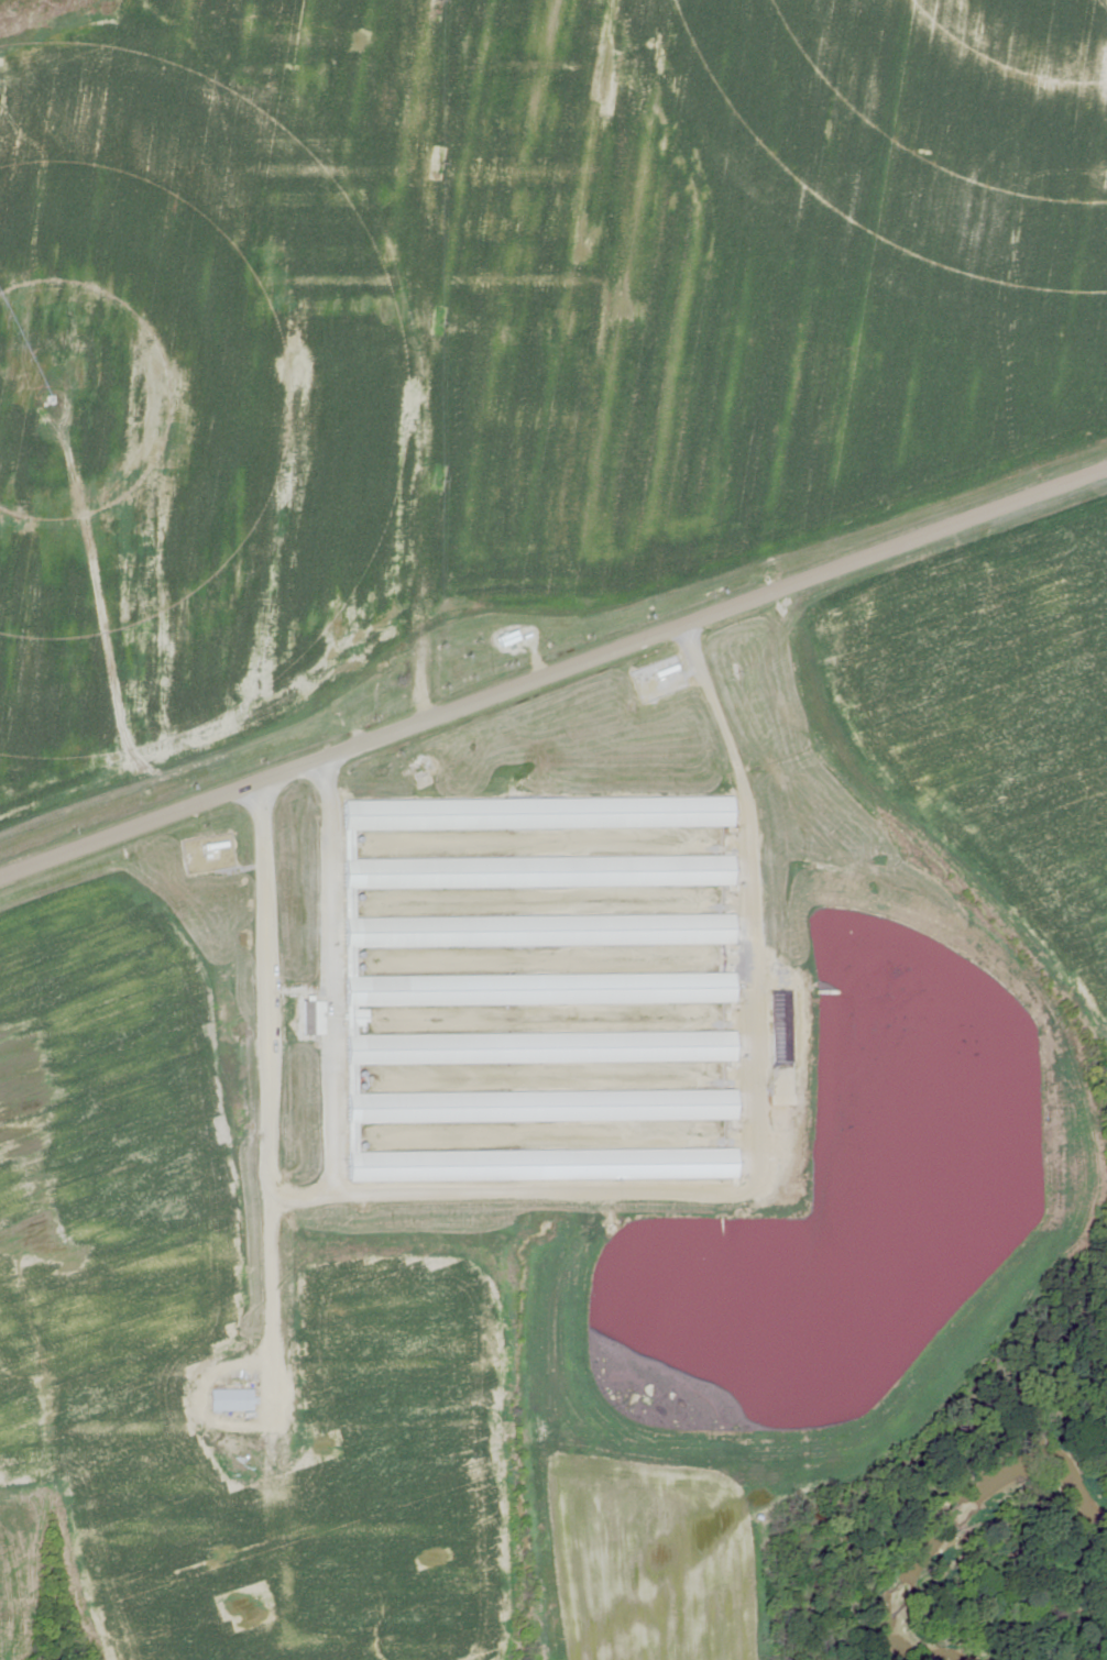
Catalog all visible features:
road: (431, 342)
building: (508, 639)
road: (544, 656)
building: (534, 990)
building: (465, 1078)
building: (231, 1400)

